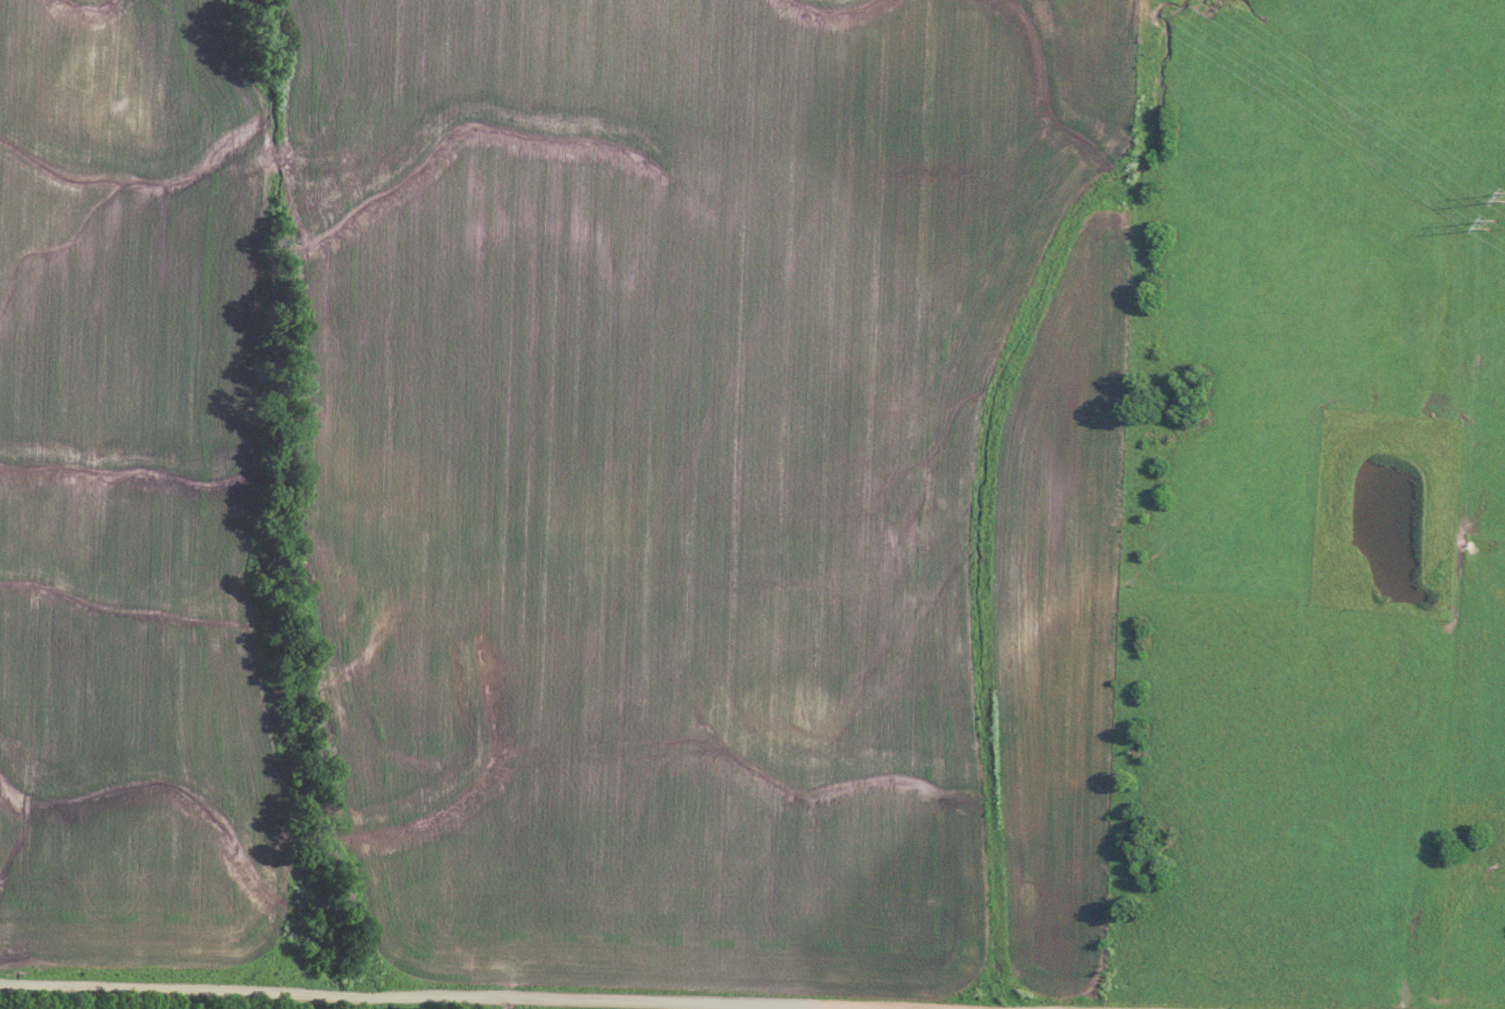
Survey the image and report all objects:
power tower: (1503, 201)
power tower: (1484, 223)
road: (516, 997)

